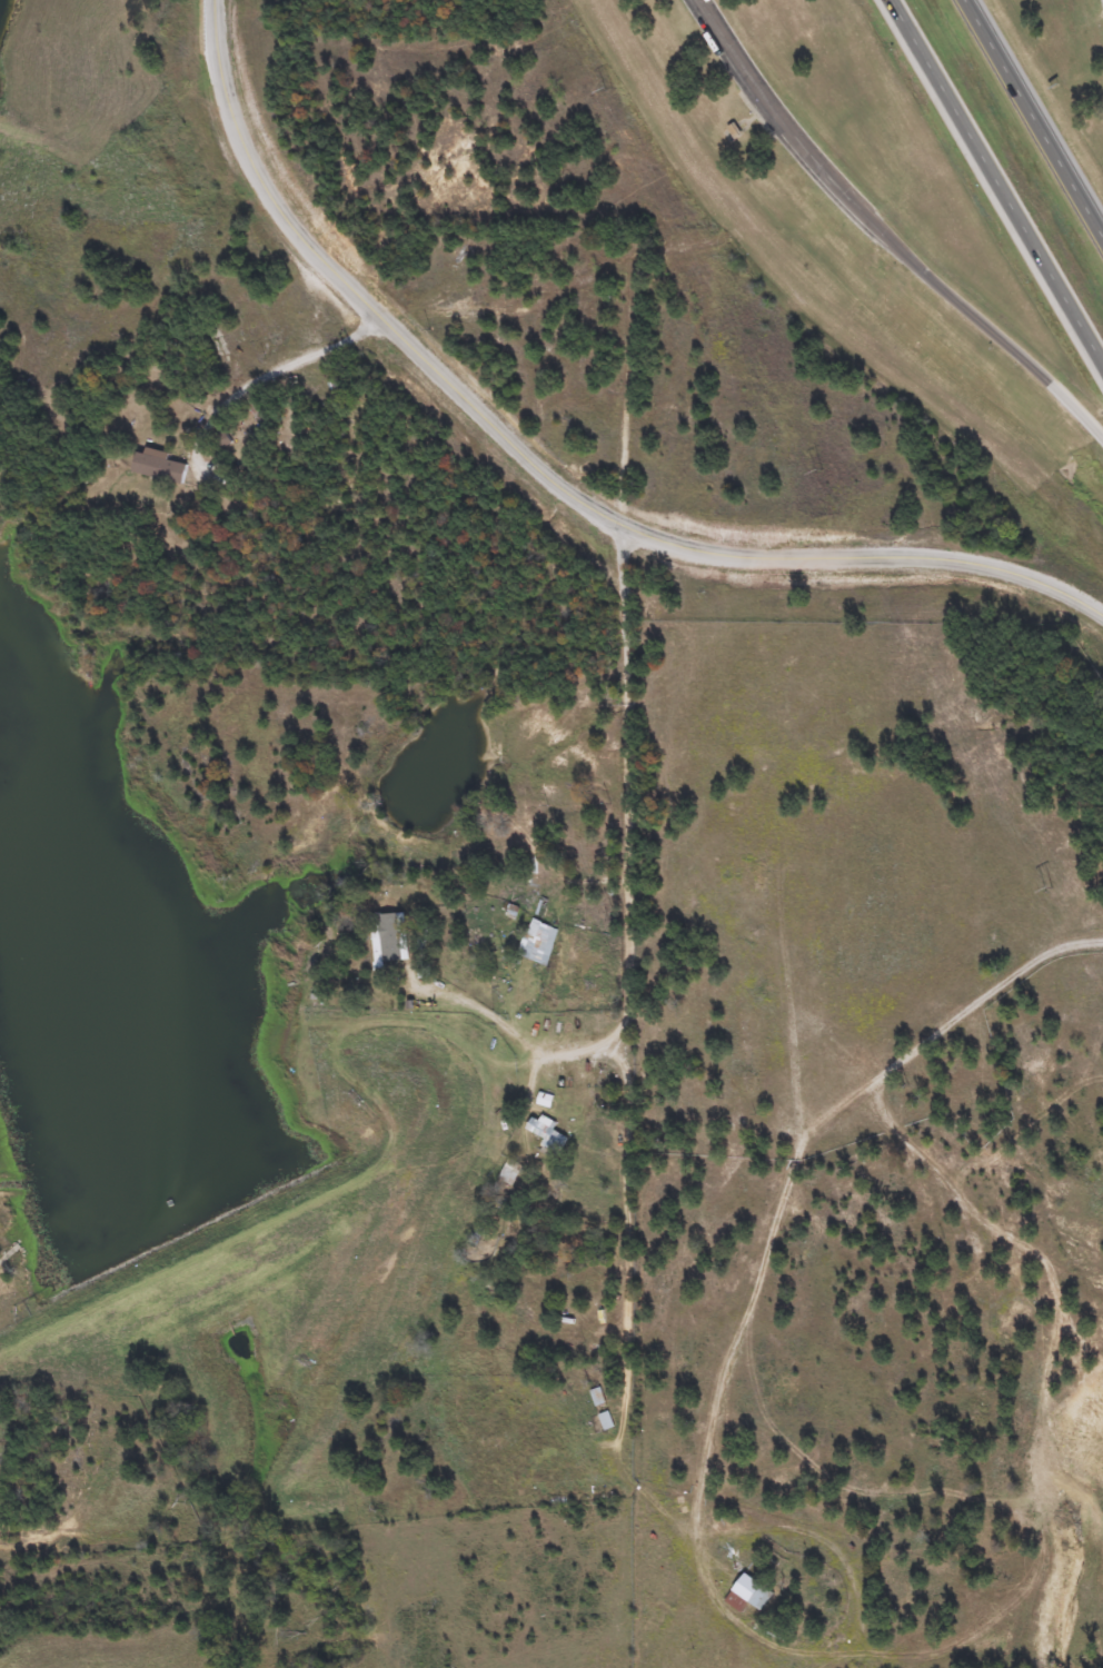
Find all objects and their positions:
parking lot: (1101, 4)
parking lot: (766, 99)
road: (768, 105)
road: (1035, 115)
building: (732, 132)
road: (995, 180)
road: (975, 319)
road: (266, 375)
building: (259, 410)
building: (159, 466)
road: (541, 470)
road: (623, 788)
building: (388, 940)
building: (537, 942)
road: (514, 1039)
building: (544, 1101)
building: (546, 1132)
building: (510, 1171)
building: (1014, 1318)
road: (622, 1323)
building: (597, 1396)
building: (605, 1420)
building: (748, 1593)

